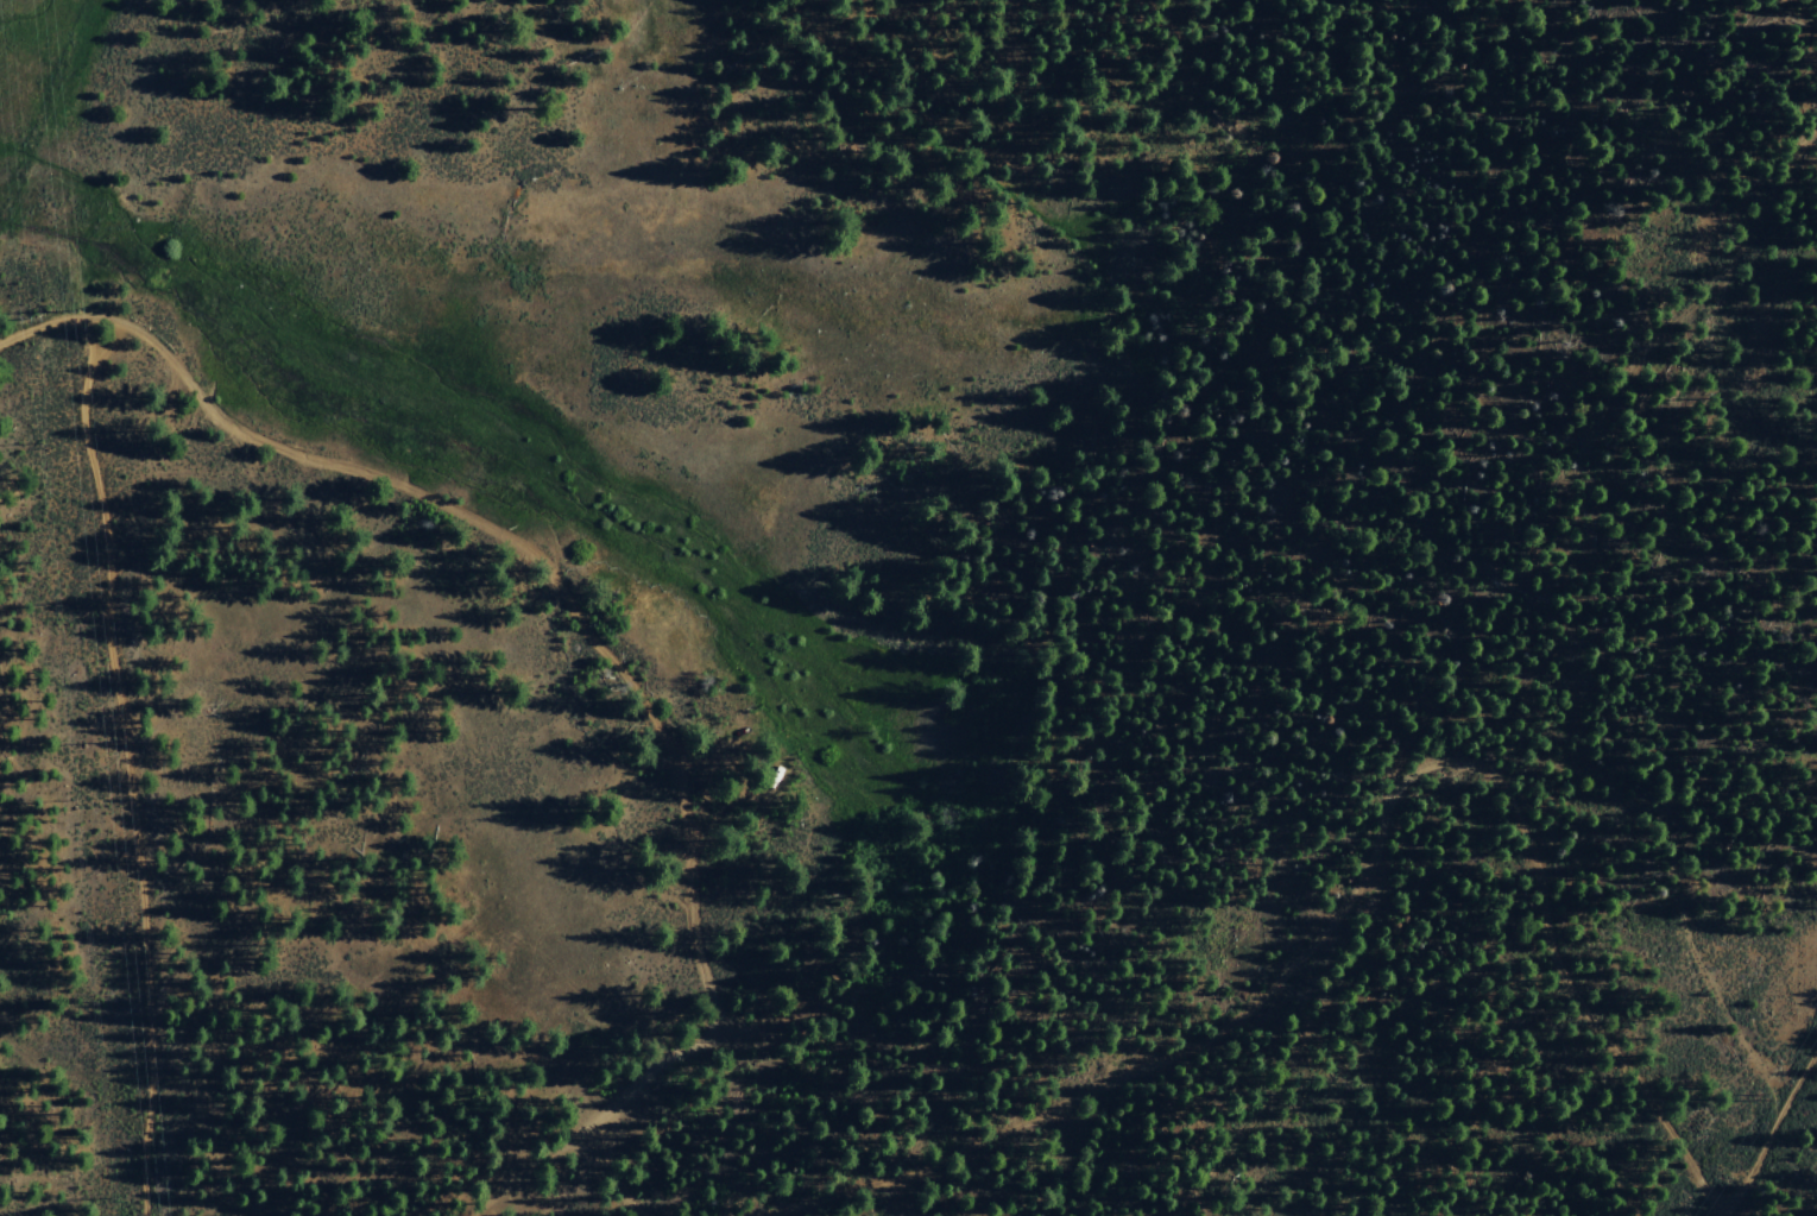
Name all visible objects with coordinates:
power tower: (56, 305)
road: (599, 647)
road: (1655, 673)
power tower: (99, 741)
road: (125, 764)
road: (1380, 845)
road: (1800, 1089)
power tower: (1758, 1096)
road: (612, 1174)
road: (797, 1196)

